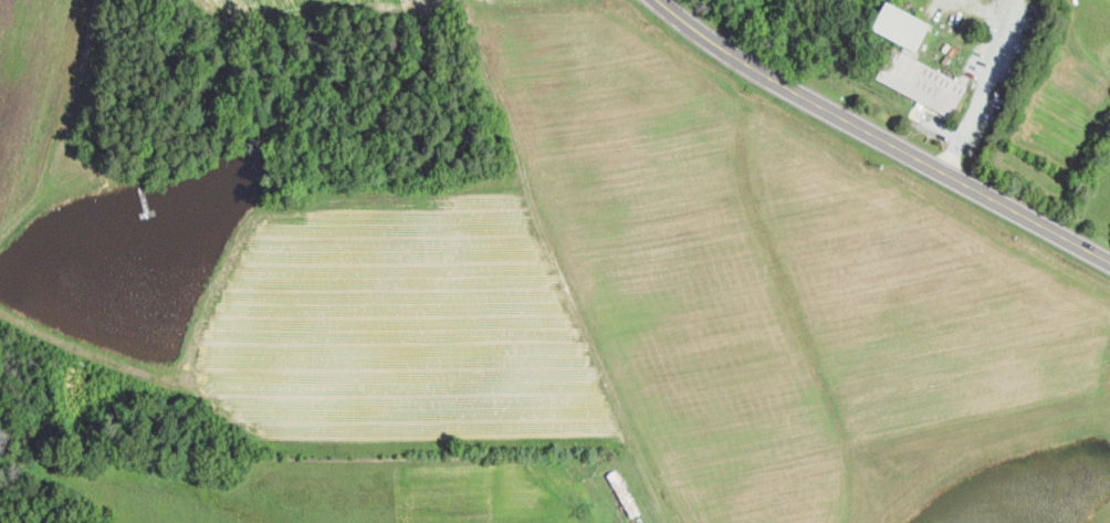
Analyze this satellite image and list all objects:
building: (907, 25)
building: (925, 82)
road: (984, 88)
road: (873, 137)
building: (625, 493)

